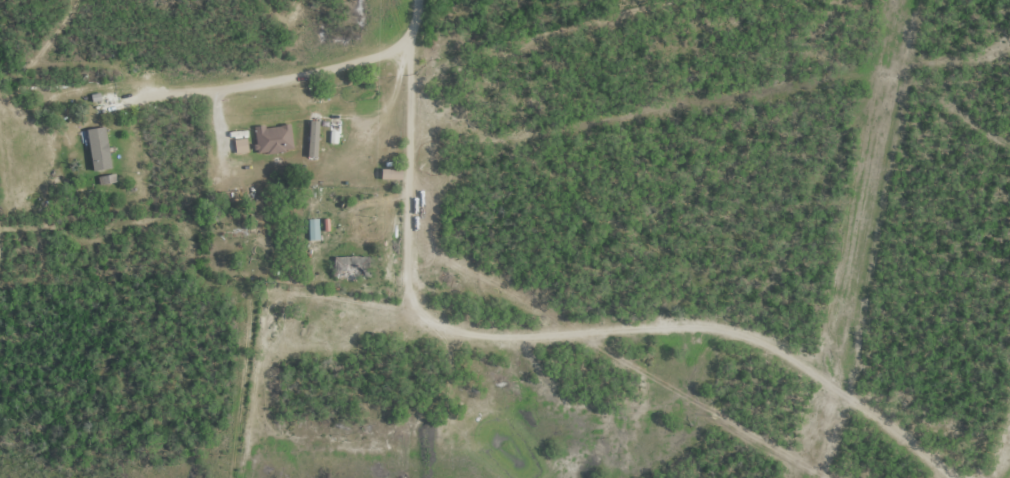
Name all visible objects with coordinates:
building: (146, 75)
road: (298, 75)
building: (271, 134)
building: (333, 136)
building: (314, 137)
building: (240, 145)
building: (96, 146)
building: (392, 148)
building: (388, 172)
building: (311, 228)
building: (348, 265)
road: (565, 330)

